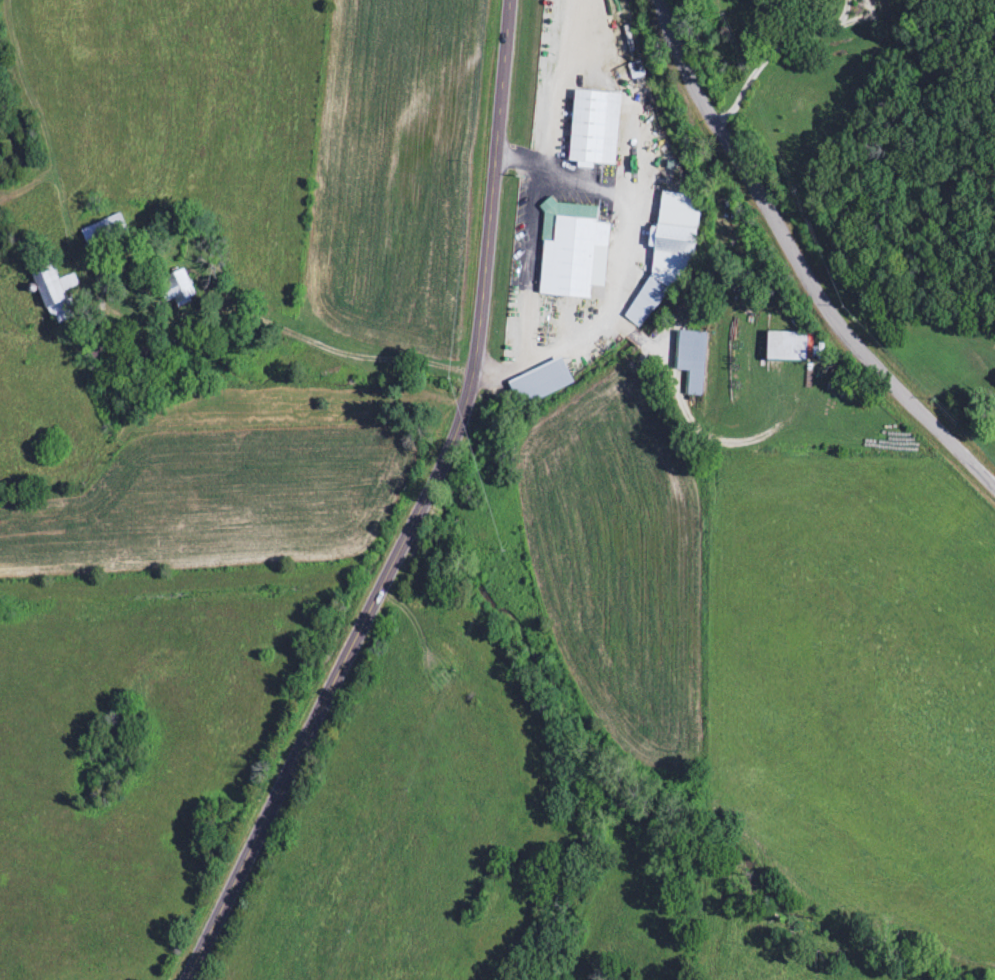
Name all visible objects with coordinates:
road: (782, 49)
building: (591, 128)
building: (101, 232)
building: (570, 251)
building: (665, 254)
road: (802, 260)
building: (172, 289)
building: (50, 291)
road: (235, 308)
building: (538, 384)
road: (423, 512)

